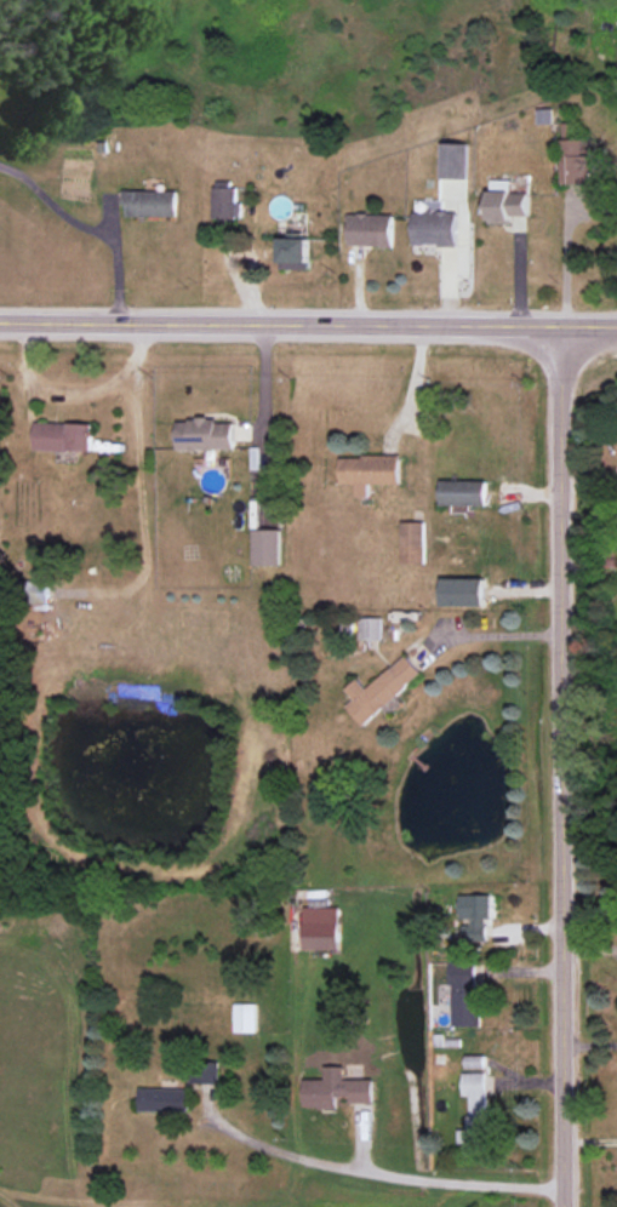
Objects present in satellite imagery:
building: (545, 115)
building: (576, 158)
building: (455, 160)
building: (152, 202)
building: (227, 202)
building: (508, 206)
building: (436, 228)
building: (372, 229)
road: (86, 235)
building: (295, 252)
road: (567, 262)
road: (308, 326)
road: (409, 390)
road: (51, 394)
road: (262, 419)
building: (207, 434)
building: (63, 436)
building: (371, 471)
road: (588, 475)
building: (464, 492)
road: (138, 496)
building: (413, 542)
building: (268, 547)
building: (39, 591)
building: (464, 591)
building: (371, 628)
road: (481, 633)
building: (382, 690)
road: (561, 766)
building: (475, 916)
building: (322, 928)
building: (465, 993)
building: (246, 1017)
building: (476, 1060)
building: (207, 1071)
building: (337, 1089)
building: (162, 1099)
building: (478, 1111)
road: (381, 1180)

